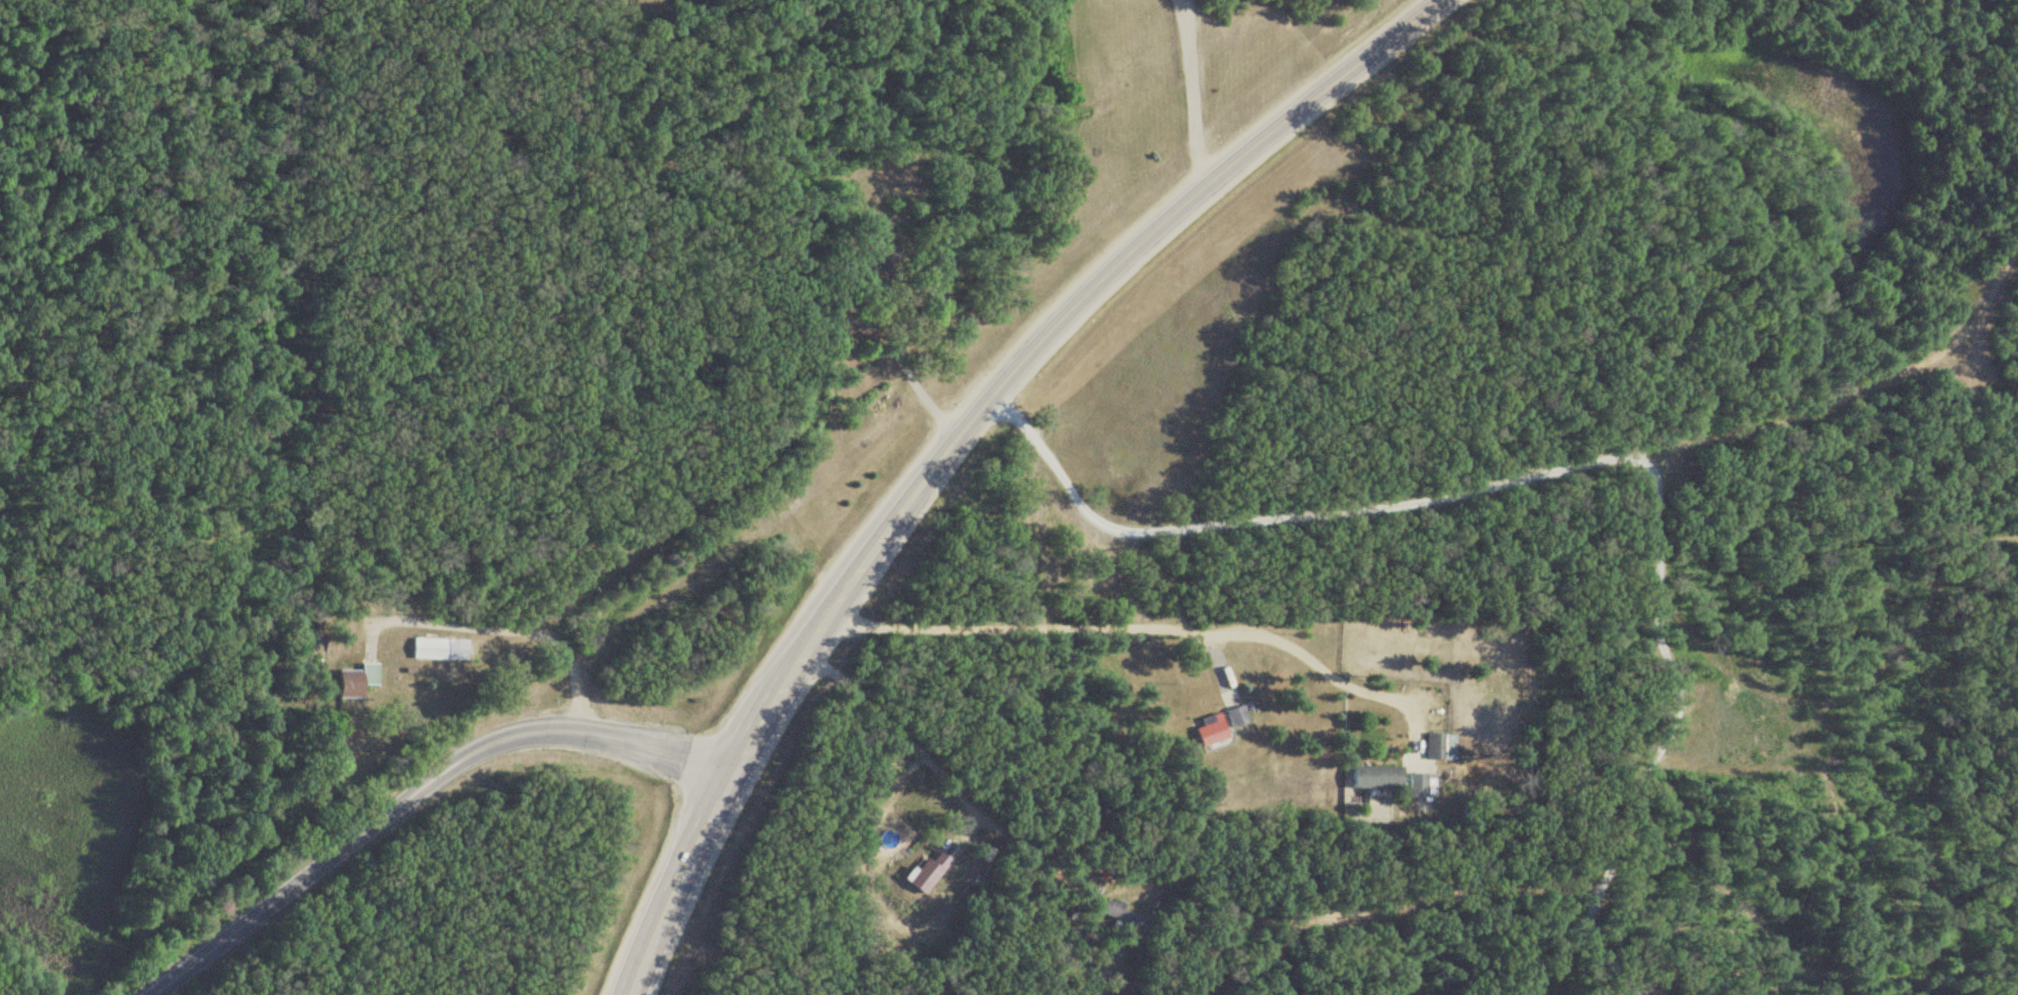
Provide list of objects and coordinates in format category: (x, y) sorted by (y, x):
road: (1188, 94)
road: (914, 378)
road: (953, 436)
road: (1575, 461)
road: (499, 624)
road: (1113, 625)
building: (436, 649)
building: (357, 681)
building: (1217, 728)
road: (909, 736)
building: (1437, 747)
building: (1375, 778)
building: (1418, 785)
road: (412, 789)
building: (929, 872)

